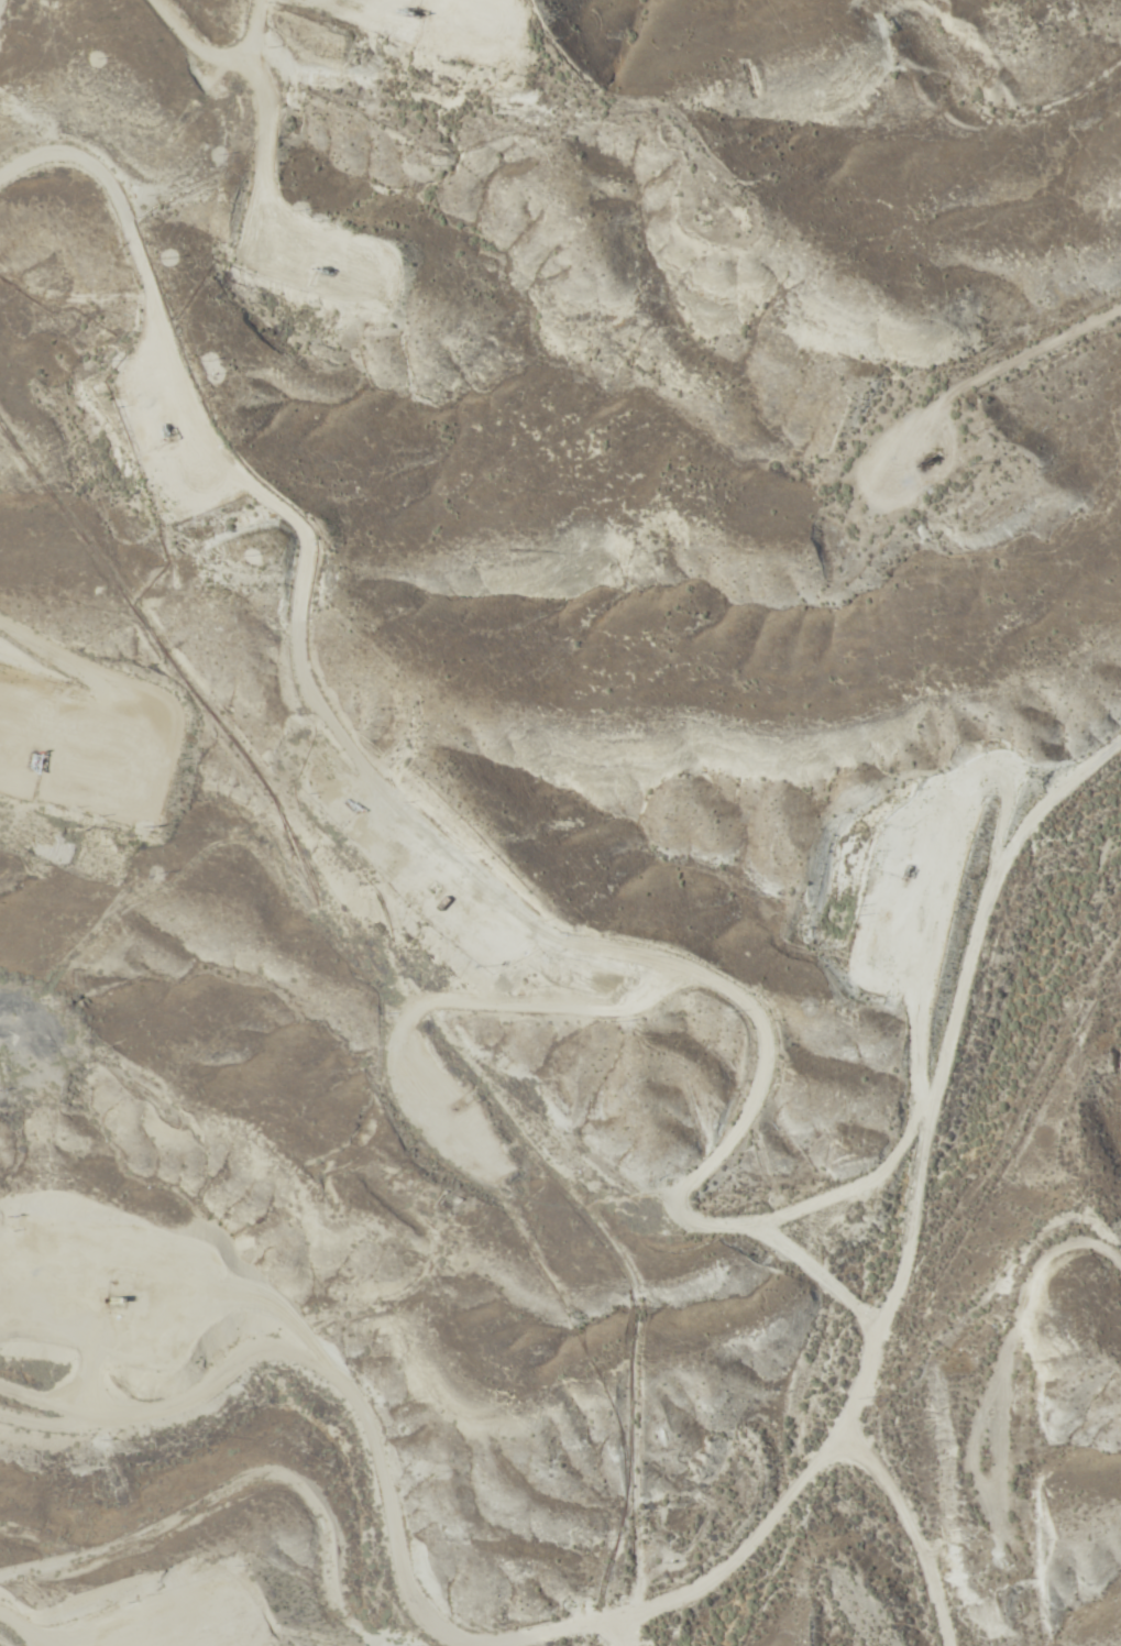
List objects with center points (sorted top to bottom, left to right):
road: (75, 1051)
road: (893, 1217)
road: (976, 1315)
road: (57, 1348)
road: (332, 1453)
road: (168, 1522)
road: (914, 1532)

